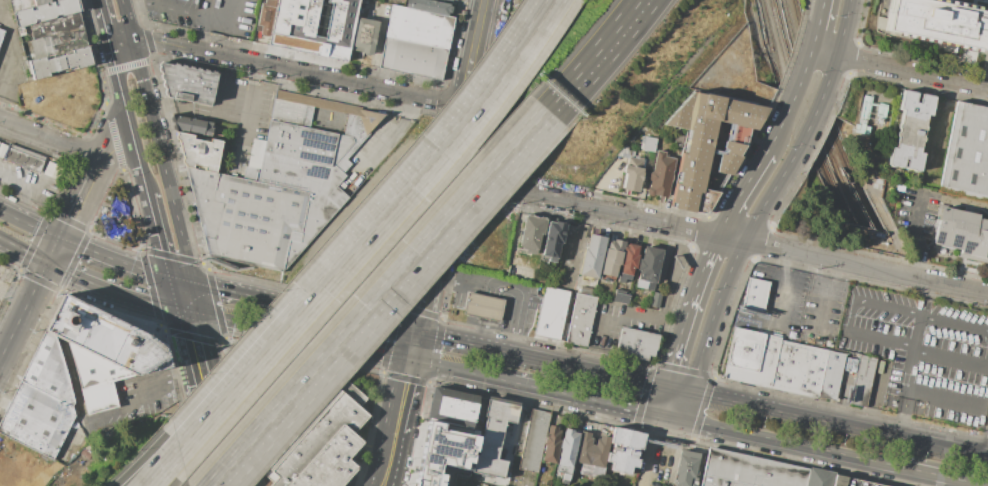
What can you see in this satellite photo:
building: (448, 0)
building: (42, 2)
building: (270, 3)
road: (163, 6)
building: (431, 6)
building: (45, 12)
road: (226, 19)
building: (265, 20)
road: (101, 22)
building: (938, 22)
road: (814, 23)
railway: (765, 24)
building: (317, 25)
building: (49, 26)
building: (419, 26)
building: (0, 31)
road: (200, 32)
building: (1, 34)
building: (364, 35)
road: (119, 41)
building: (55, 43)
road: (841, 43)
road: (472, 52)
road: (589, 54)
building: (414, 58)
road: (9, 59)
building: (59, 62)
road: (899, 65)
parking lot: (987, 66)
road: (296, 70)
building: (188, 83)
road: (118, 87)
road: (792, 94)
building: (872, 109)
railway: (804, 114)
road: (244, 116)
railway: (816, 116)
railway: (828, 118)
road: (812, 119)
building: (191, 125)
building: (908, 132)
road: (388, 137)
road: (51, 139)
road: (157, 142)
building: (649, 144)
building: (709, 144)
building: (199, 152)
building: (627, 152)
building: (965, 155)
road: (136, 158)
building: (24, 159)
building: (50, 169)
building: (661, 174)
building: (634, 176)
road: (26, 180)
road: (89, 182)
building: (281, 183)
road: (745, 188)
road: (444, 190)
road: (770, 197)
park: (116, 217)
road: (30, 226)
road: (155, 231)
road: (375, 232)
building: (533, 234)
road: (717, 234)
road: (912, 234)
building: (959, 235)
building: (553, 239)
traffic signals: (60, 242)
road: (714, 243)
road: (24, 249)
road: (55, 252)
building: (591, 254)
building: (611, 259)
traffic signals: (50, 262)
road: (785, 262)
road: (112, 263)
building: (629, 263)
building: (648, 268)
traffic signals: (167, 279)
road: (180, 281)
road: (458, 281)
traffic signals: (194, 284)
road: (111, 286)
building: (588, 291)
road: (170, 292)
road: (239, 293)
building: (754, 294)
road: (374, 296)
building: (621, 297)
road: (197, 298)
building: (655, 299)
road: (522, 300)
road: (823, 301)
parking lot: (778, 303)
traffic signals: (174, 305)
building: (483, 305)
road: (783, 305)
road: (23, 307)
road: (322, 312)
building: (552, 312)
parking lot: (826, 312)
traffic signals: (201, 313)
road: (715, 316)
road: (849, 316)
road: (177, 317)
road: (637, 317)
road: (419, 318)
road: (685, 318)
building: (581, 320)
road: (954, 320)
road: (246, 323)
road: (388, 326)
road: (478, 331)
traffic signals: (416, 333)
road: (460, 342)
building: (636, 345)
road: (364, 350)
building: (103, 351)
road: (209, 351)
parking lot: (924, 354)
building: (753, 358)
road: (951, 358)
road: (912, 359)
traffic signals: (410, 361)
road: (552, 362)
building: (801, 369)
building: (48, 370)
road: (461, 371)
building: (833, 376)
road: (631, 379)
building: (863, 380)
traffic signals: (663, 387)
road: (677, 390)
road: (138, 393)
traffic signals: (691, 393)
road: (583, 398)
road: (946, 398)
road: (658, 400)
road: (686, 406)
road: (200, 408)
building: (458, 410)
road: (399, 411)
traffic signals: (655, 414)
road: (668, 416)
building: (37, 420)
traffic signals: (682, 420)
road: (839, 425)
road: (231, 438)
building: (493, 438)
building: (533, 440)
road: (790, 443)
building: (551, 444)
road: (986, 446)
building: (324, 447)
building: (591, 450)
building: (624, 450)
road: (654, 450)
building: (566, 451)
building: (445, 456)
road: (154, 469)
road: (164, 469)
building: (687, 469)
building: (753, 472)
road: (380, 473)
road: (388, 473)
road: (941, 476)
building: (826, 480)
building: (854, 483)
parking lot: (854, 483)

